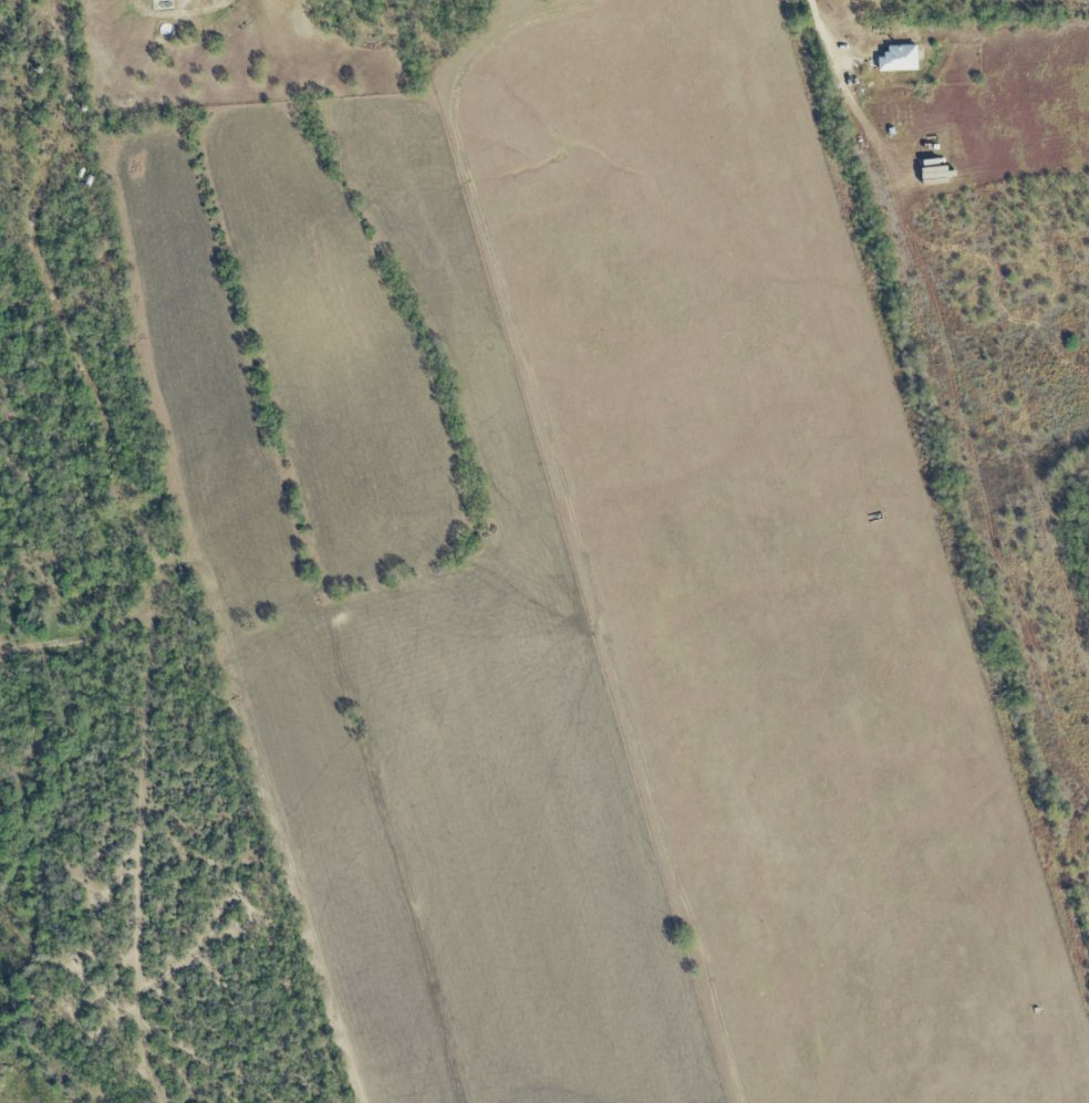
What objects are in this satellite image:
road: (826, 38)
building: (899, 59)

